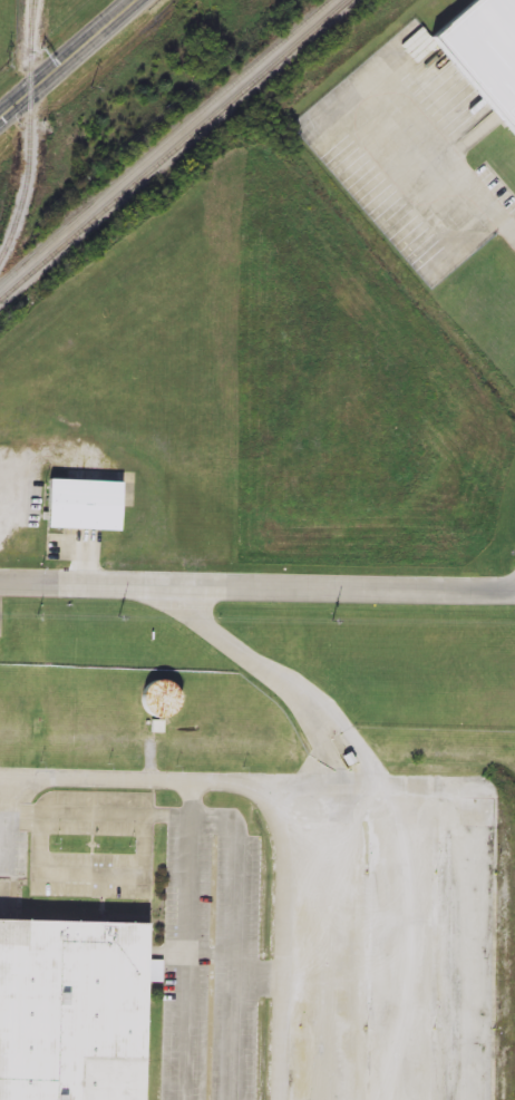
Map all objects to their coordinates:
railway: (32, 17)
building: (485, 52)
road: (69, 60)
power tower: (88, 91)
railway: (31, 134)
railway: (166, 144)
railway: (175, 150)
road: (450, 174)
building: (81, 505)
road: (257, 583)
road: (266, 672)
building: (157, 703)
road: (168, 781)
road: (457, 896)
road: (236, 909)
road: (339, 943)
parking lot: (229, 997)
building: (71, 1012)

